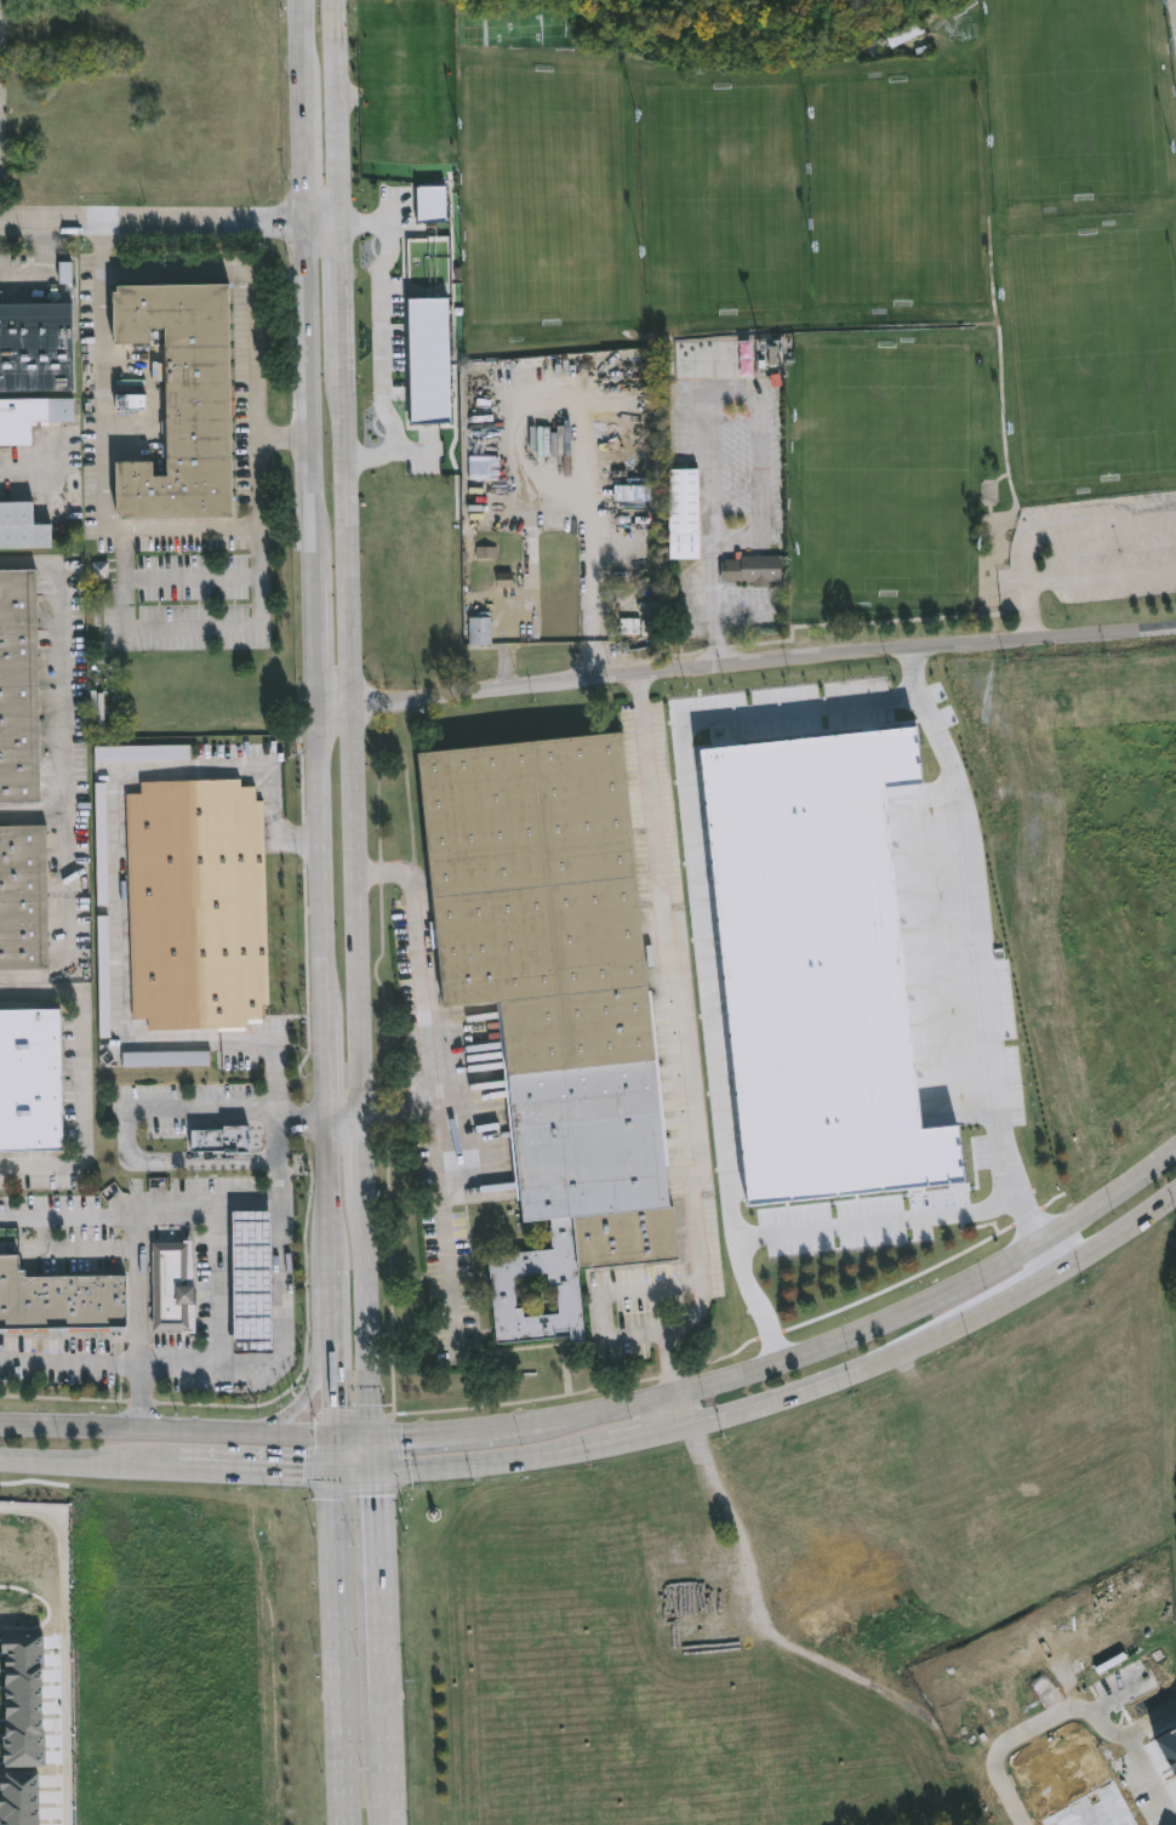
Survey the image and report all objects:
road: (1175, 5)
road: (301, 28)
road: (335, 28)
building: (906, 35)
road: (301, 132)
road: (335, 132)
road: (166, 213)
park: (866, 264)
road: (44, 268)
road: (335, 268)
road: (382, 336)
building: (36, 347)
building: (730, 359)
road: (304, 389)
building: (184, 403)
building: (30, 418)
road: (280, 434)
road: (33, 473)
road: (553, 480)
building: (683, 512)
road: (228, 525)
road: (1108, 527)
building: (23, 529)
parking lot: (1091, 552)
road: (1024, 555)
building: (760, 569)
road: (1101, 576)
road: (192, 577)
road: (1029, 612)
road: (193, 626)
road: (713, 627)
building: (479, 628)
building: (636, 628)
road: (312, 632)
road: (744, 662)
road: (924, 677)
building: (19, 689)
road: (764, 718)
road: (352, 723)
road: (67, 774)
road: (34, 815)
road: (287, 838)
road: (114, 852)
road: (316, 855)
building: (24, 900)
road: (418, 968)
building: (818, 968)
building: (552, 998)
road: (690, 1042)
road: (273, 1060)
road: (319, 1070)
road: (81, 1077)
building: (29, 1078)
road: (200, 1108)
road: (341, 1119)
building: (223, 1141)
road: (362, 1152)
road: (172, 1165)
road: (445, 1190)
road: (321, 1192)
road: (139, 1216)
road: (69, 1220)
road: (889, 1228)
road: (1046, 1247)
gas station: (218, 1282)
building: (250, 1282)
gas station: (250, 1282)
road: (219, 1284)
building: (172, 1288)
road: (606, 1295)
building: (59, 1301)
road: (325, 1306)
road: (367, 1307)
road: (276, 1316)
road: (860, 1318)
road: (72, 1362)
road: (326, 1368)
road: (797, 1387)
road: (307, 1393)
road: (327, 1407)
road: (677, 1410)
road: (164, 1424)
road: (440, 1425)
traffic signals: (329, 1427)
road: (350, 1427)
traffic signals: (372, 1428)
road: (331, 1449)
road: (373, 1449)
road: (92, 1458)
road: (258, 1466)
road: (354, 1470)
traffic signals: (375, 1470)
traffic signals: (333, 1471)
road: (379, 1596)
road: (64, 1638)
road: (342, 1647)
building: (24, 1701)
road: (1051, 1717)
building: (1169, 1740)
road: (386, 1774)
building: (19, 1797)

